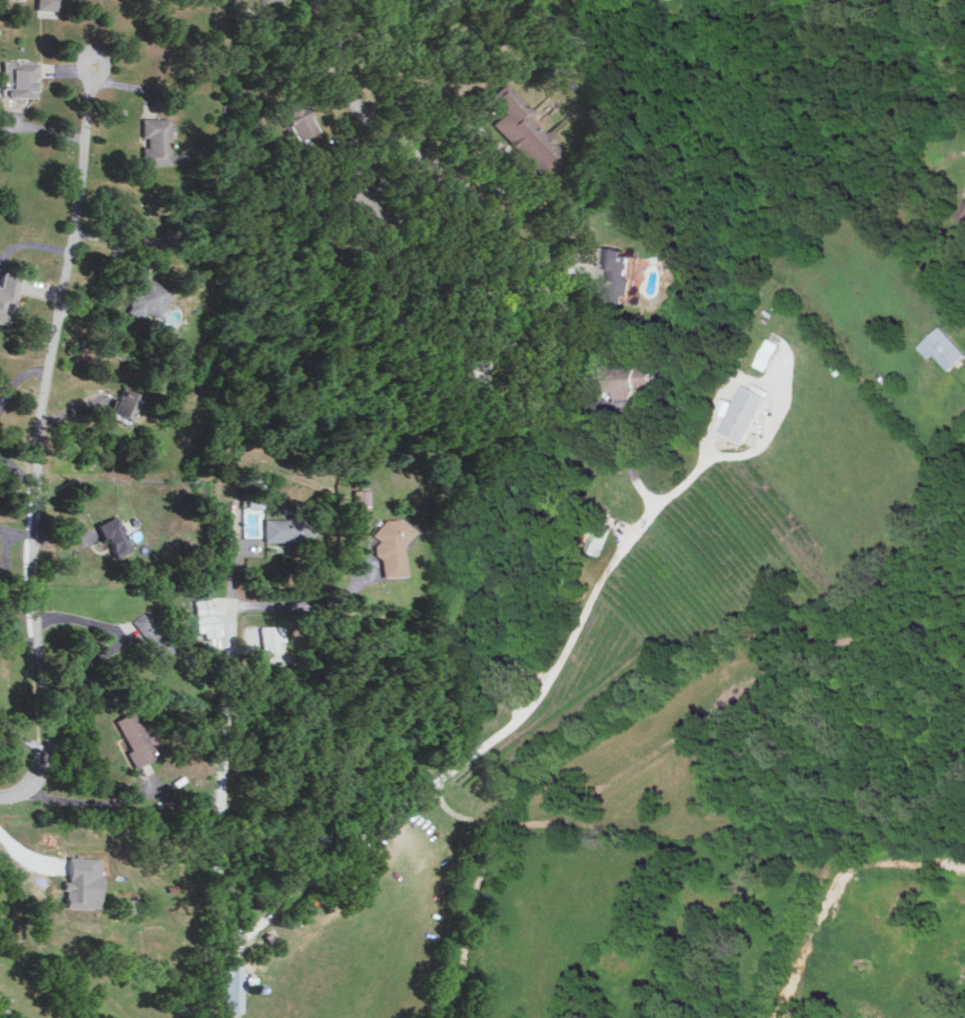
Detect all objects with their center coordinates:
building: (266, 1)
building: (49, 3)
road: (89, 55)
building: (297, 117)
building: (523, 130)
building: (155, 139)
building: (359, 171)
building: (360, 205)
road: (487, 209)
building: (963, 212)
road: (552, 265)
building: (617, 271)
building: (8, 294)
building: (147, 296)
building: (944, 346)
building: (768, 353)
building: (594, 368)
building: (630, 379)
building: (123, 402)
building: (744, 410)
road: (32, 451)
building: (252, 491)
building: (281, 528)
road: (11, 534)
building: (114, 535)
building: (388, 548)
building: (205, 617)
building: (155, 634)
building: (268, 636)
road: (15, 637)
building: (133, 738)
road: (211, 740)
road: (490, 741)
road: (98, 807)
building: (81, 882)
building: (124, 908)
building: (232, 988)
road: (5, 1013)

